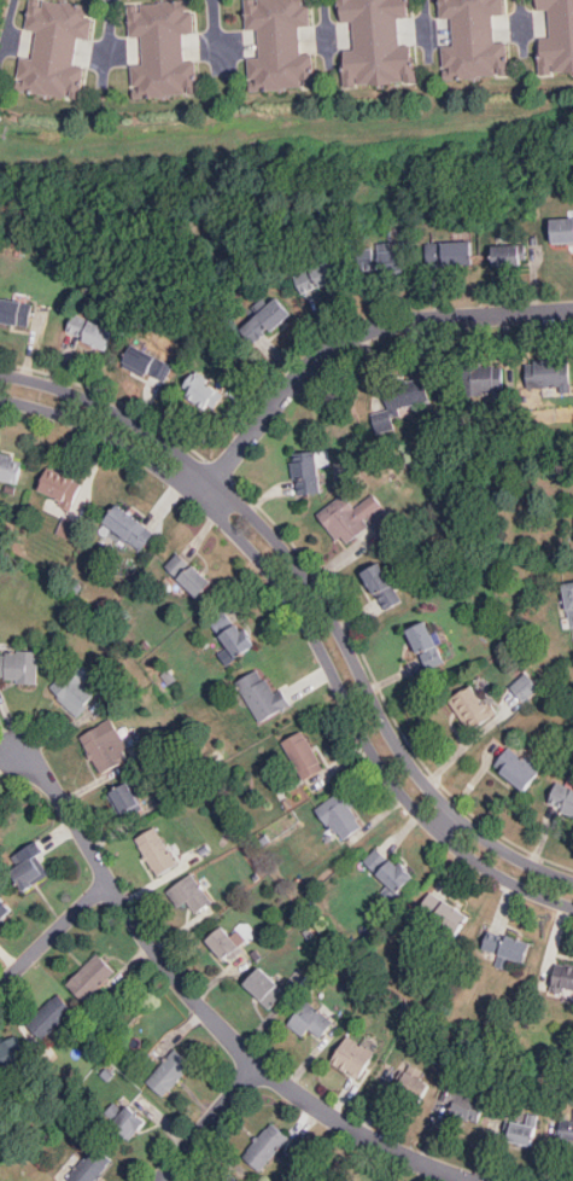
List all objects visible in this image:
road: (7, 22)
road: (519, 24)
road: (426, 28)
road: (324, 30)
road: (215, 31)
building: (557, 34)
road: (110, 35)
building: (375, 41)
building: (478, 42)
building: (276, 47)
building: (163, 51)
building: (55, 52)
building: (560, 227)
building: (452, 250)
building: (513, 251)
building: (385, 252)
building: (318, 274)
building: (18, 312)
building: (267, 316)
building: (90, 328)
road: (350, 337)
building: (148, 357)
building: (548, 370)
building: (489, 377)
building: (203, 389)
building: (405, 392)
building: (393, 411)
building: (10, 466)
building: (306, 471)
building: (62, 484)
building: (344, 517)
building: (129, 523)
building: (71, 528)
building: (191, 574)
building: (381, 584)
road: (317, 595)
building: (571, 595)
road: (309, 629)
building: (235, 634)
building: (426, 641)
building: (16, 663)
building: (528, 687)
building: (74, 691)
building: (259, 692)
building: (475, 706)
building: (105, 744)
building: (303, 752)
building: (519, 767)
building: (563, 795)
building: (128, 798)
building: (341, 813)
road: (440, 820)
building: (158, 848)
building: (388, 868)
building: (28, 874)
building: (193, 894)
building: (5, 908)
building: (443, 909)
road: (54, 933)
building: (507, 944)
building: (227, 946)
building: (563, 973)
building: (92, 975)
building: (267, 987)
road: (203, 1011)
building: (49, 1020)
building: (311, 1023)
building: (7, 1052)
building: (355, 1054)
building: (169, 1072)
building: (416, 1089)
building: (463, 1110)
road: (209, 1123)
building: (125, 1125)
building: (566, 1129)
building: (528, 1131)
building: (267, 1146)
building: (89, 1167)
building: (228, 1177)

